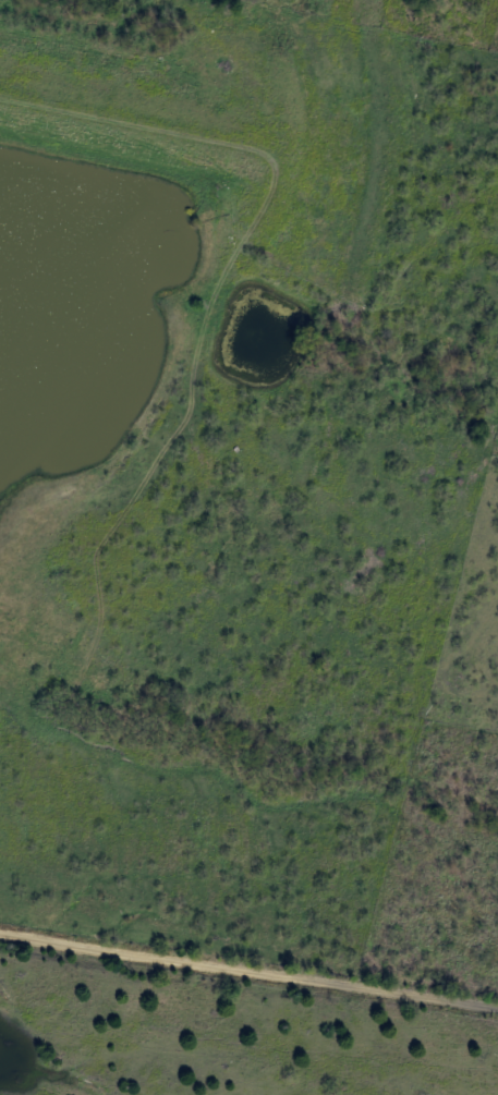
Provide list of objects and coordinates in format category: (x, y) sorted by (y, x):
road: (248, 971)

